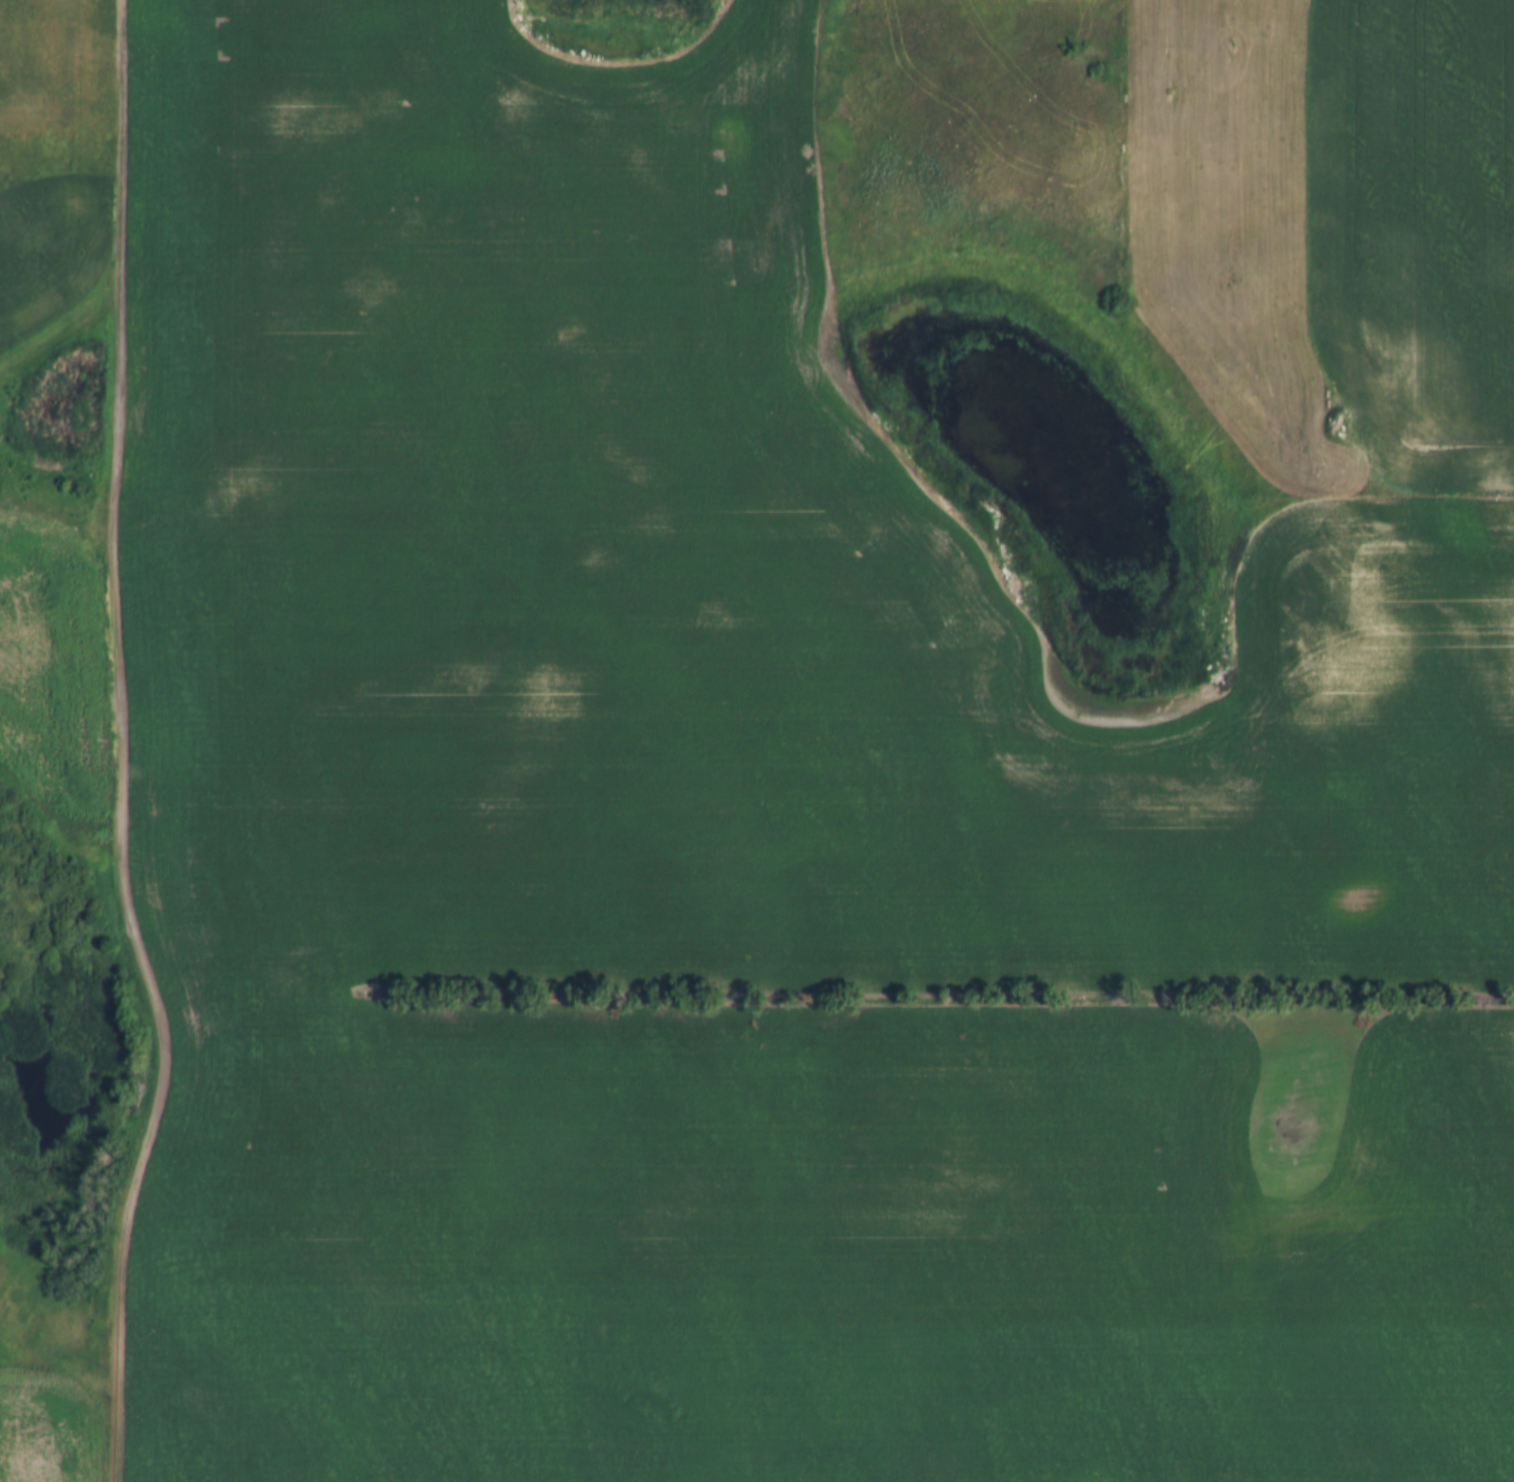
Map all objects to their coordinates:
road: (117, 747)

